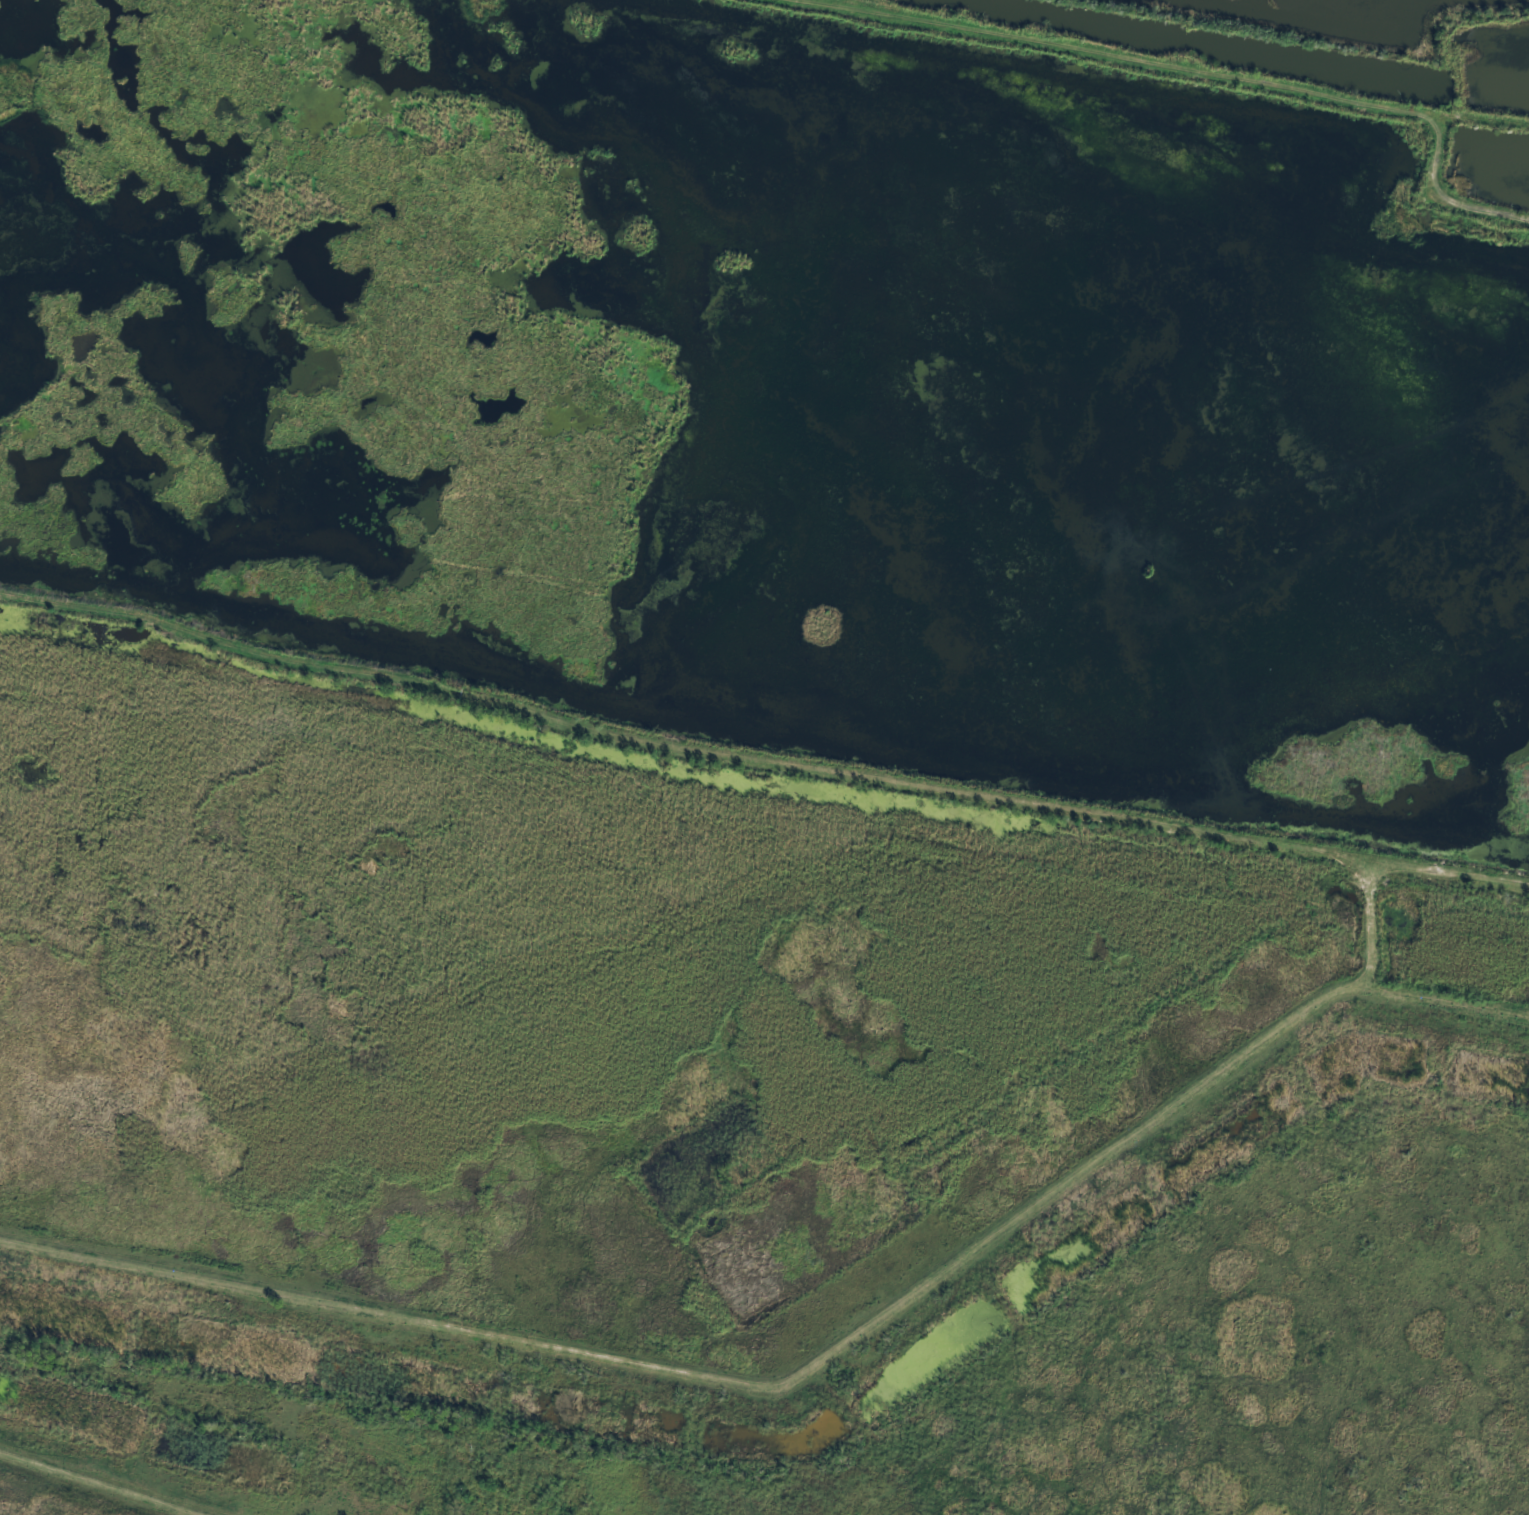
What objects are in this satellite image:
road: (1203, 69)
road: (761, 761)

